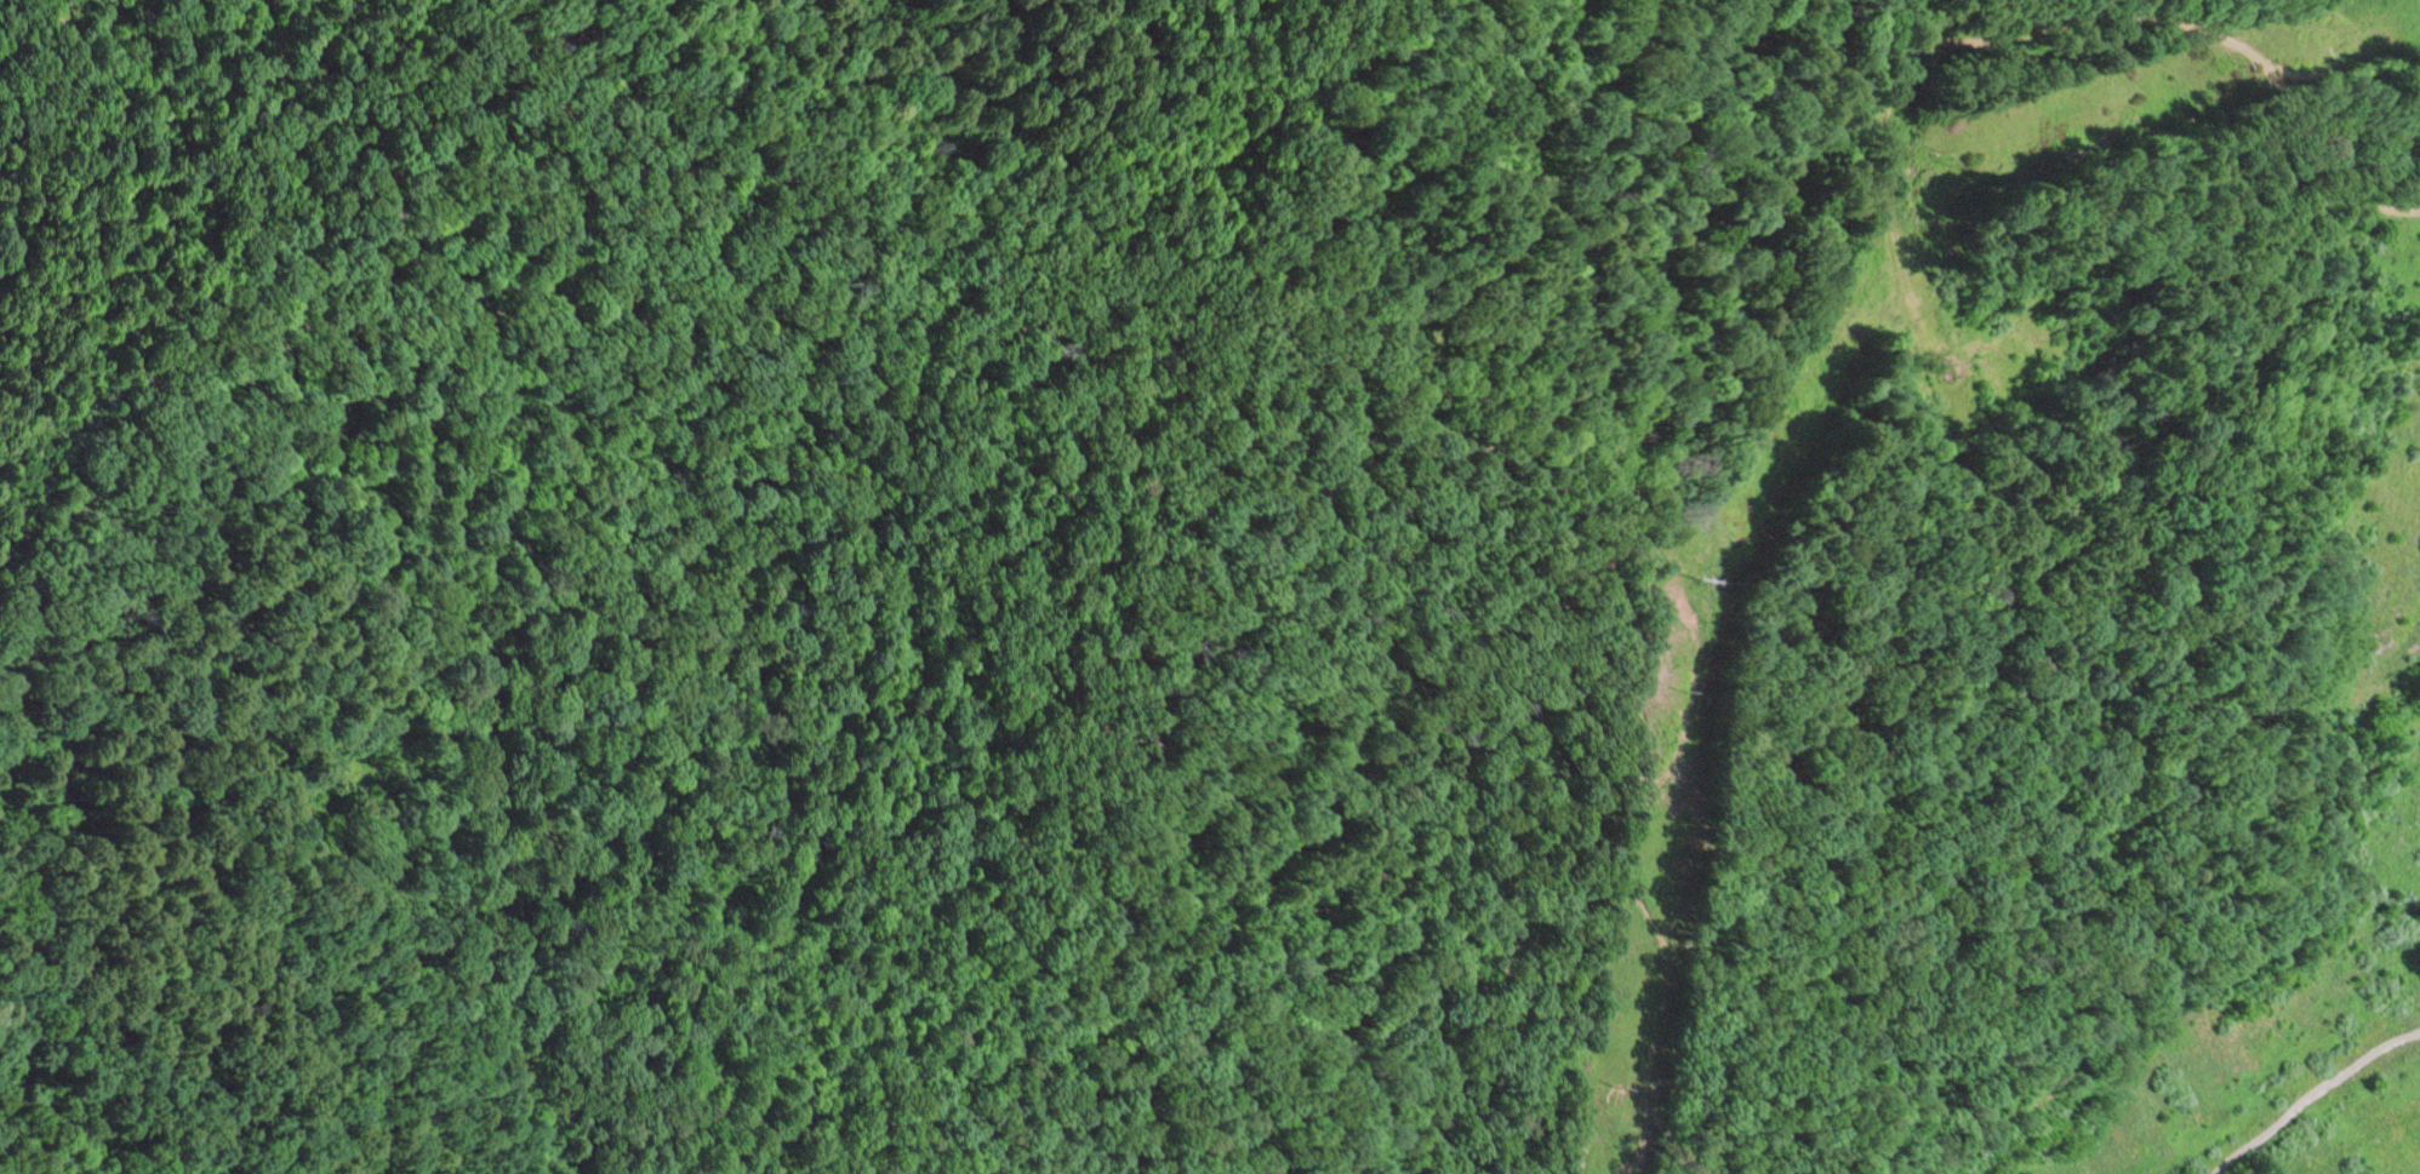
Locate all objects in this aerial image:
road: (2397, 1162)

